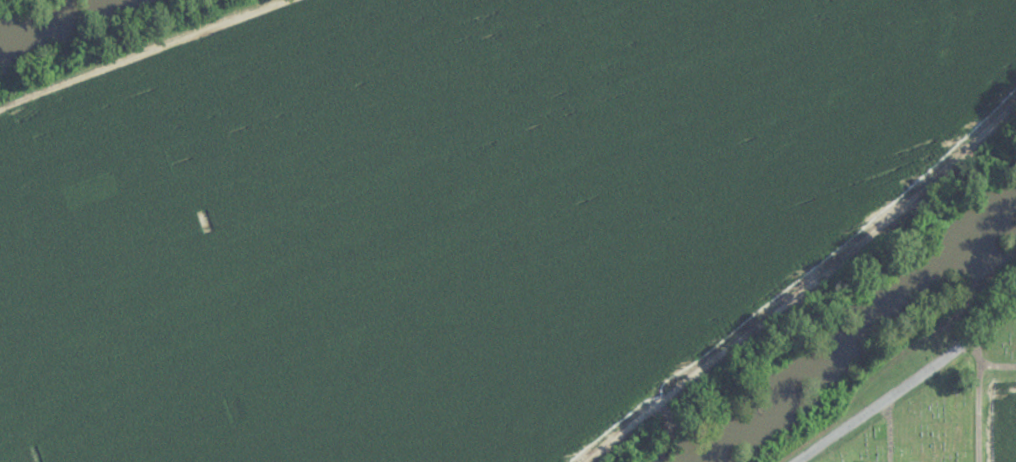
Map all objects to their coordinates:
river: (28, 9)
river: (860, 330)
road: (912, 381)

